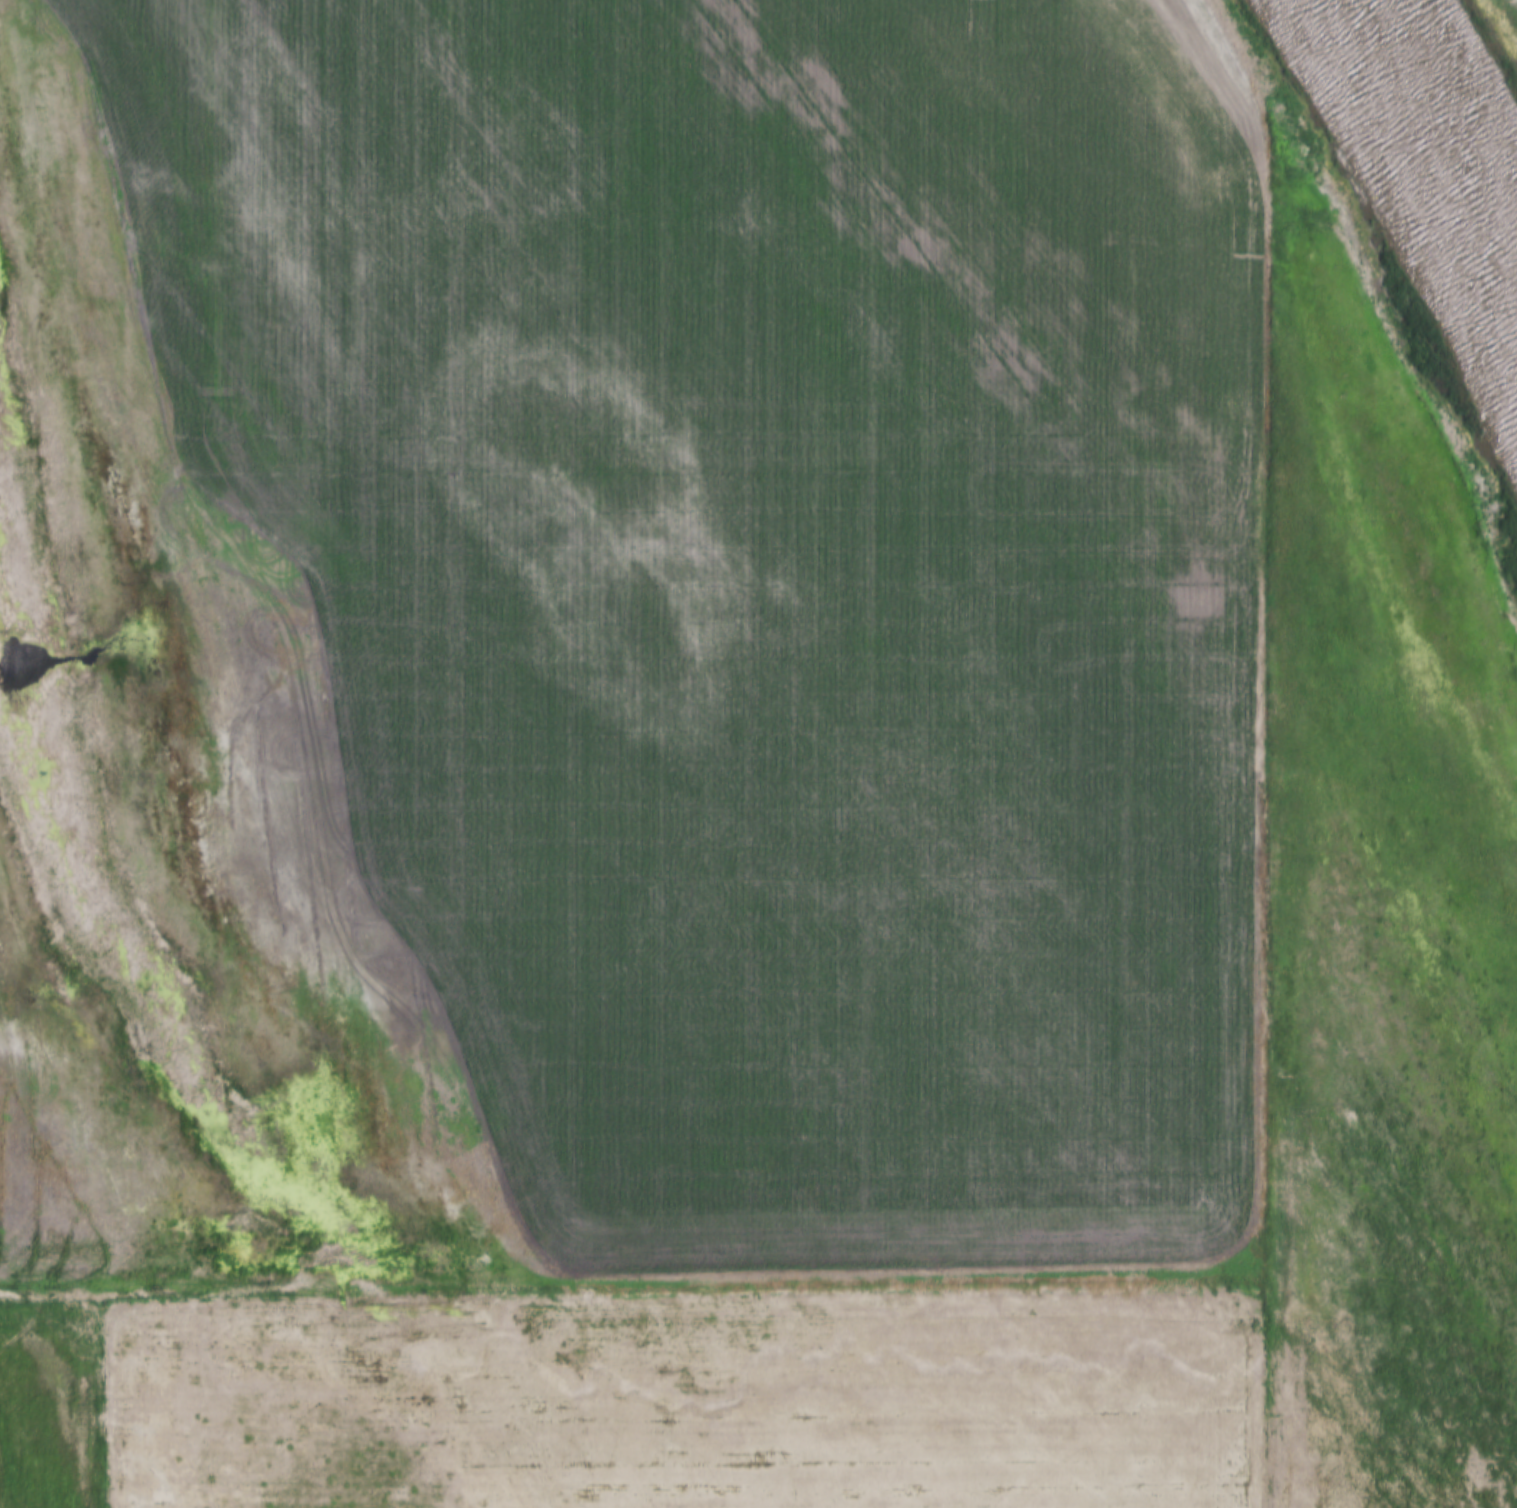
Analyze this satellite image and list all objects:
river: (1431, 144)

